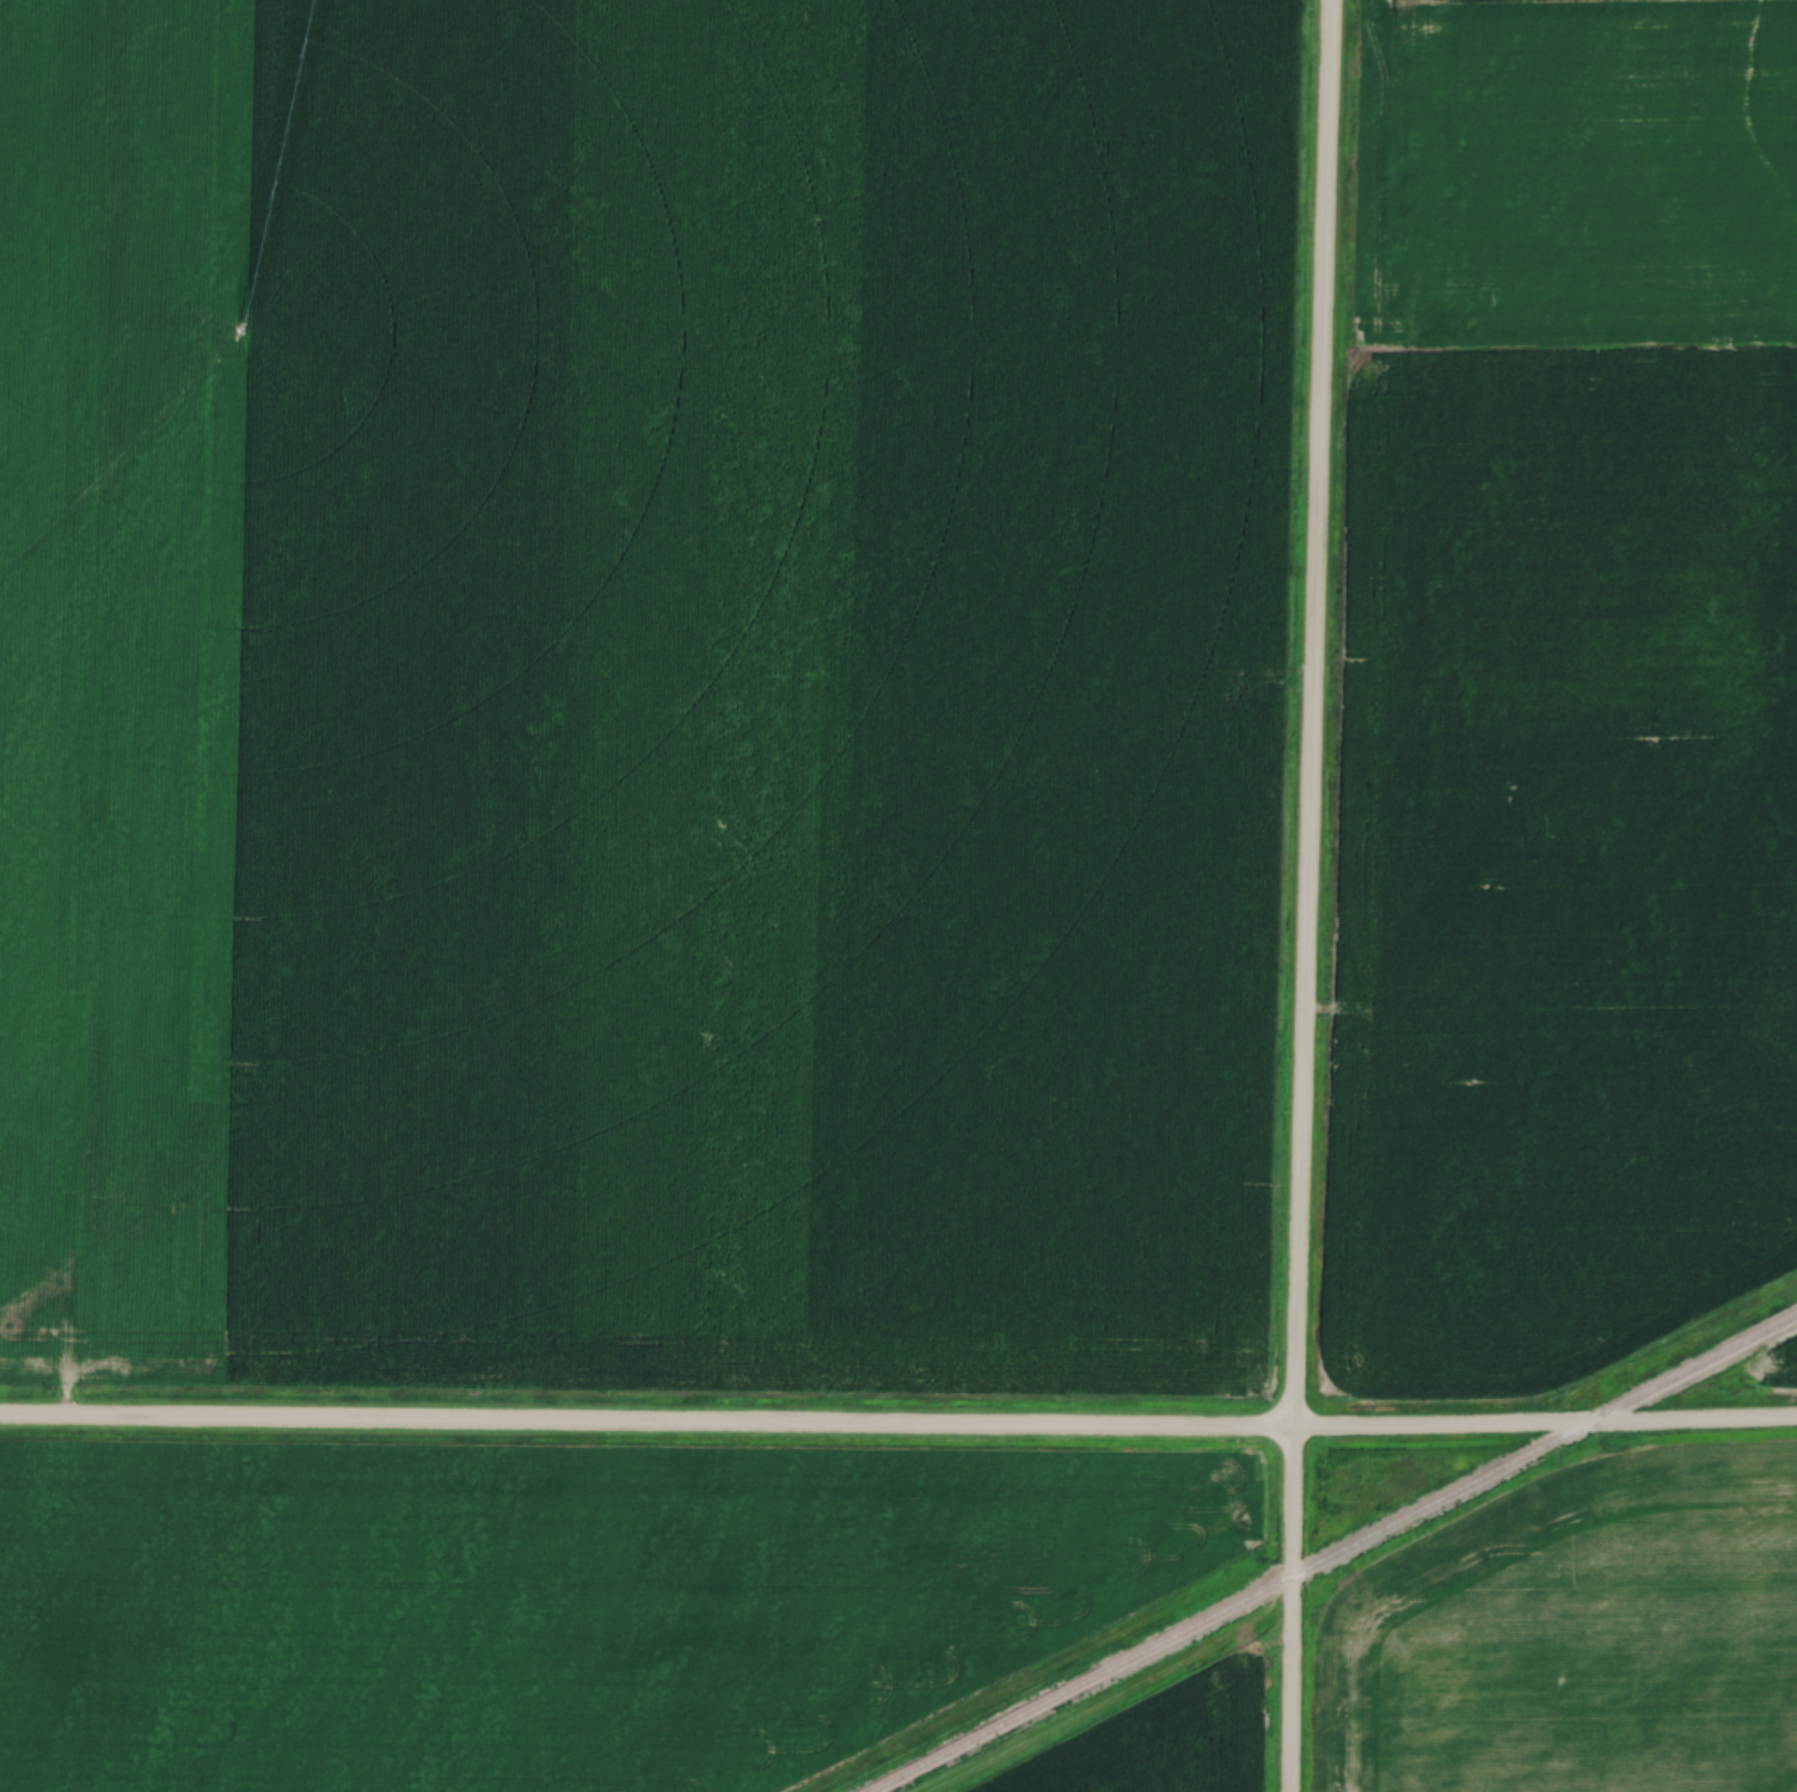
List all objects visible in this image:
road: (1304, 896)
road: (898, 1428)
railway: (1321, 1547)

